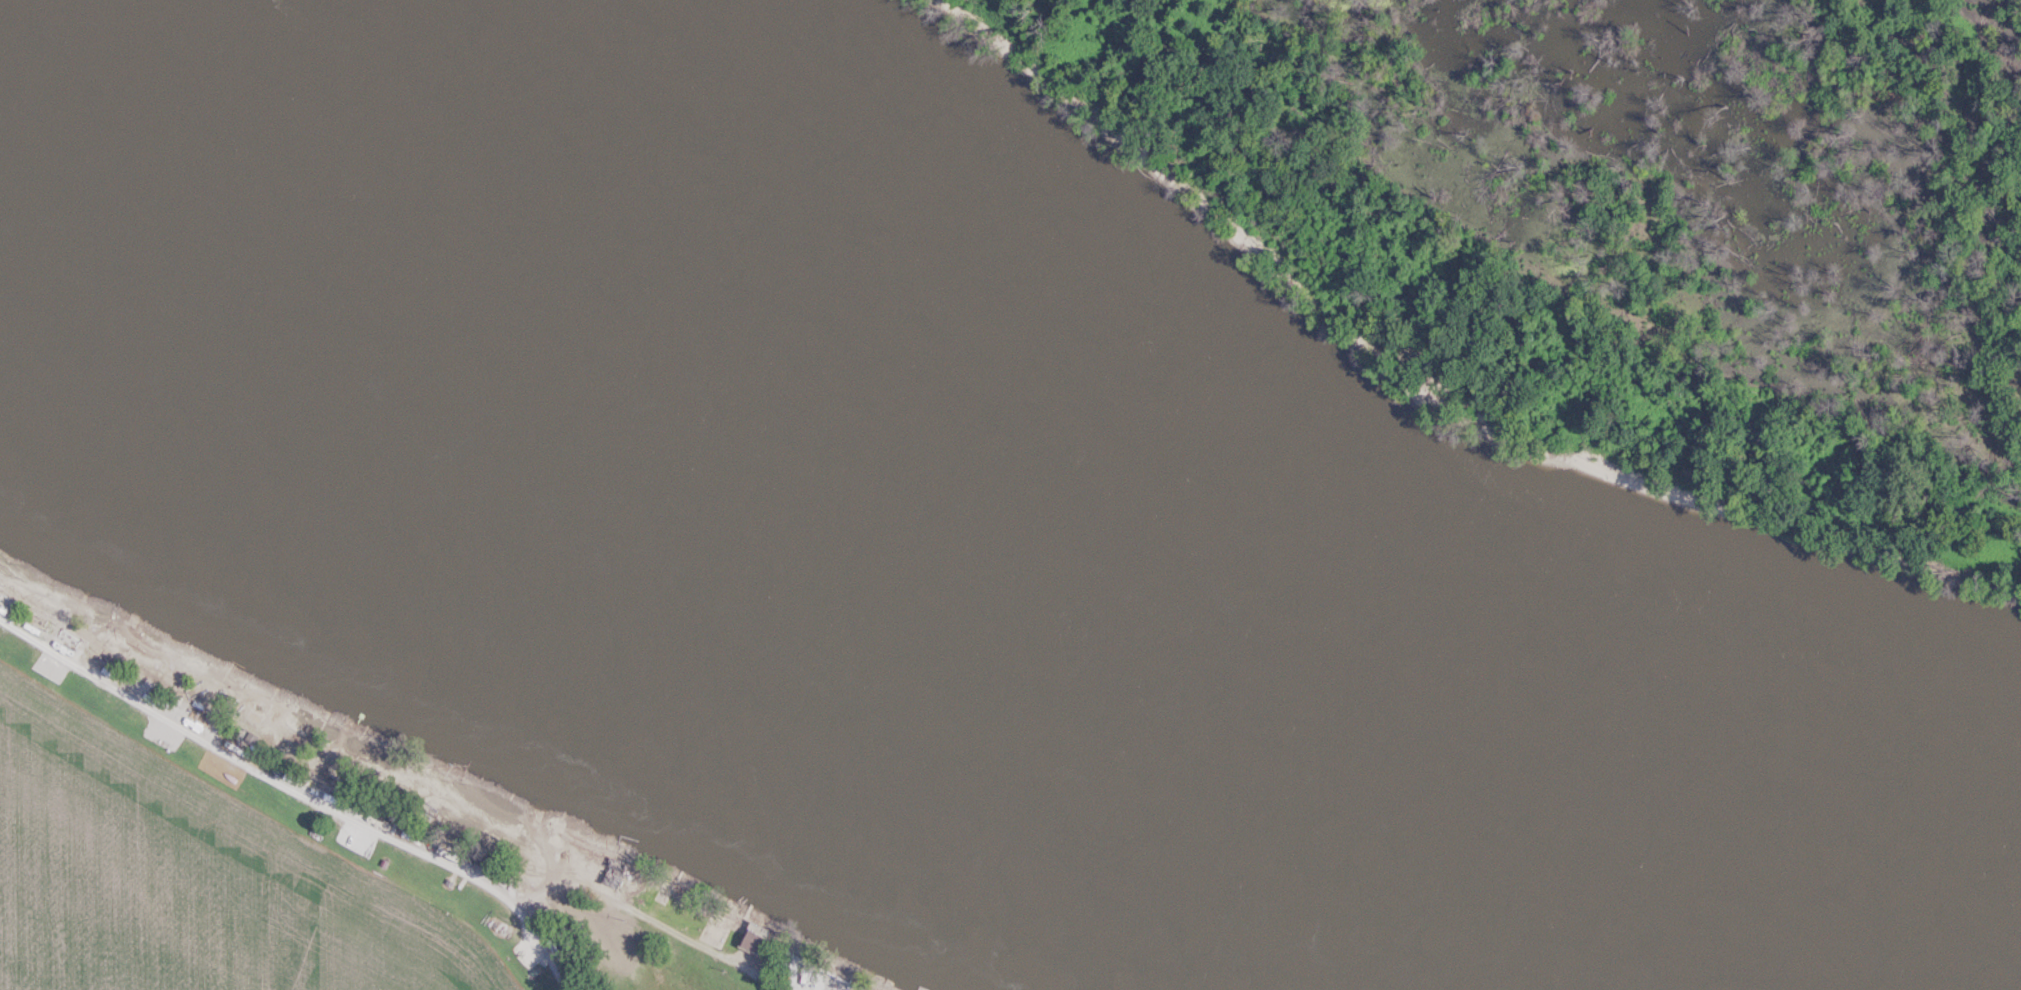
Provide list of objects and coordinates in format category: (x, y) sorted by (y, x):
river: (983, 573)
road: (371, 828)
road: (544, 946)

